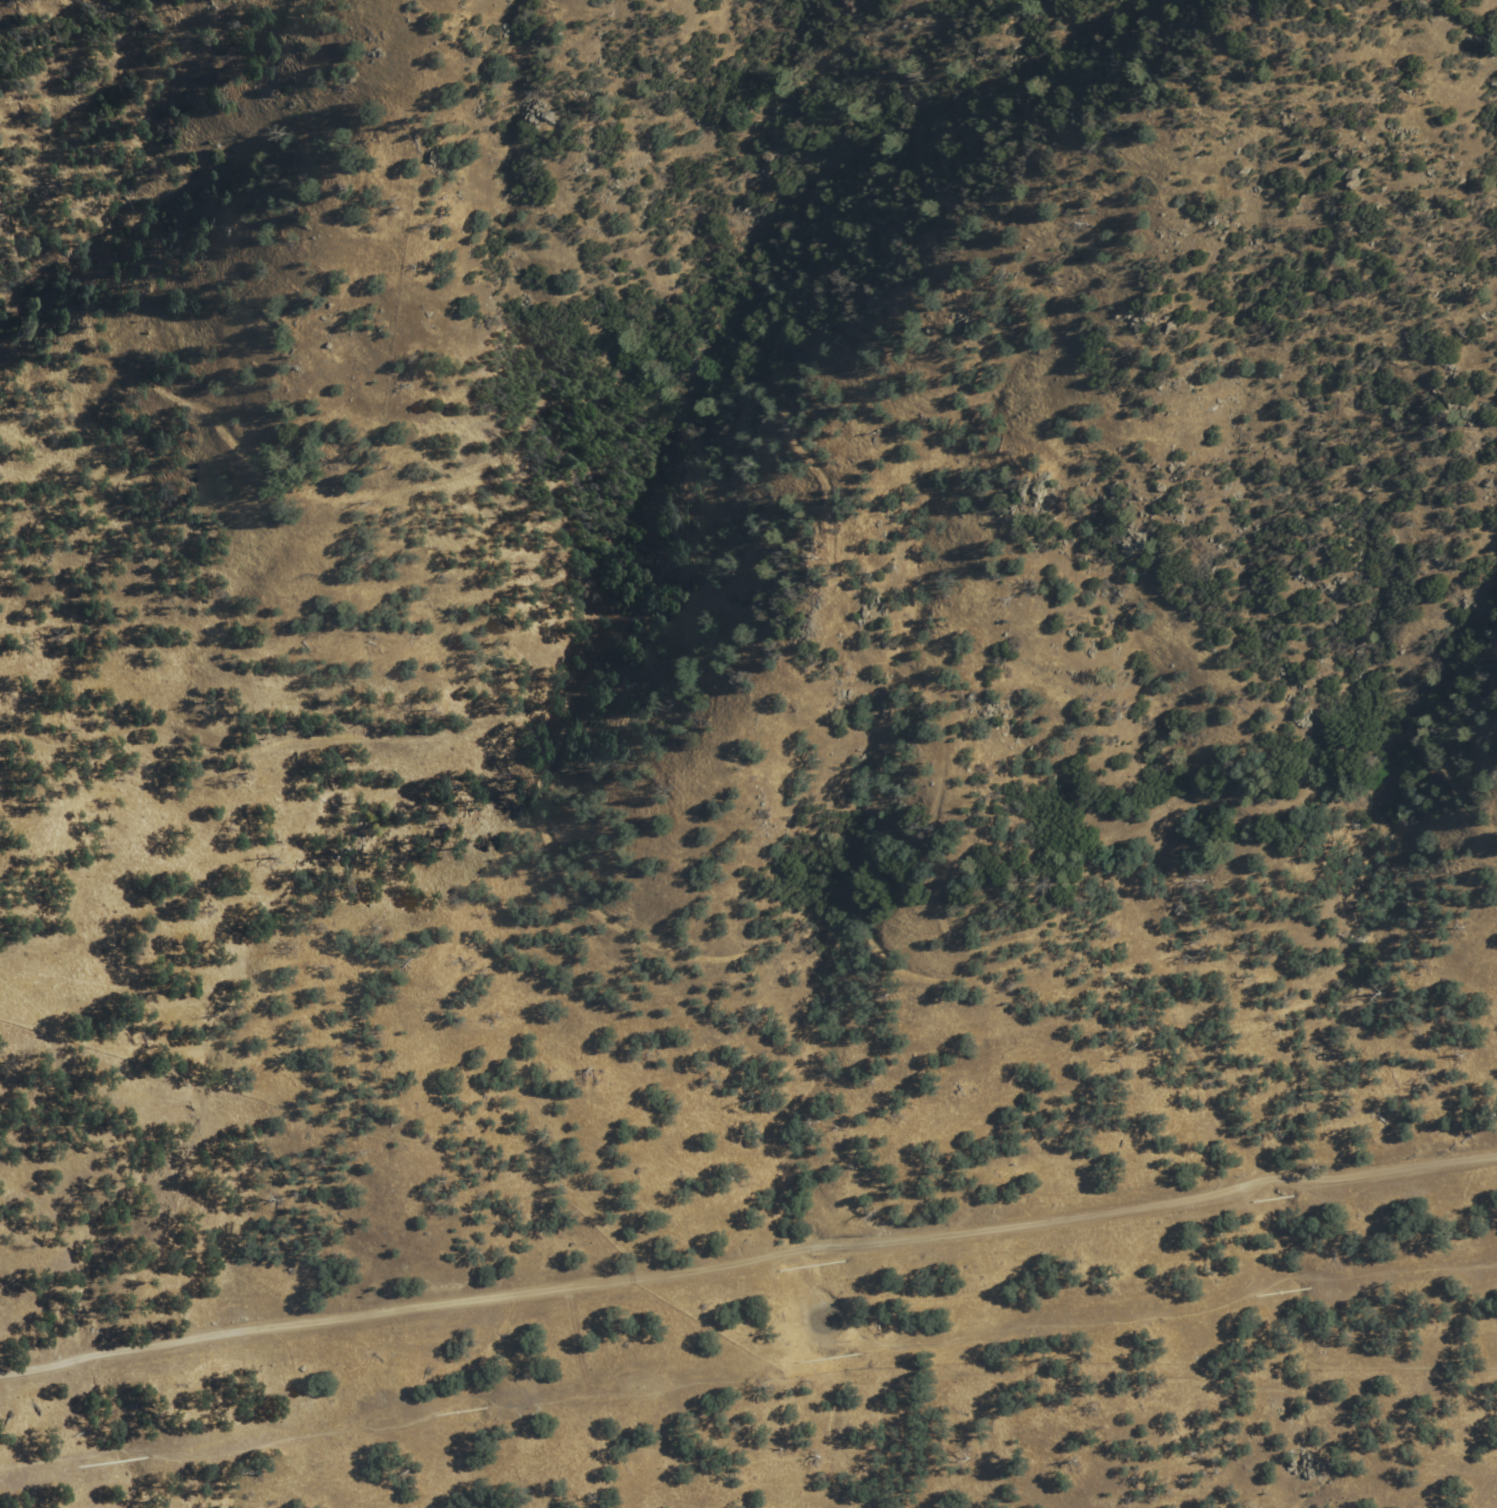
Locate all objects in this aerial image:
road: (750, 1266)

